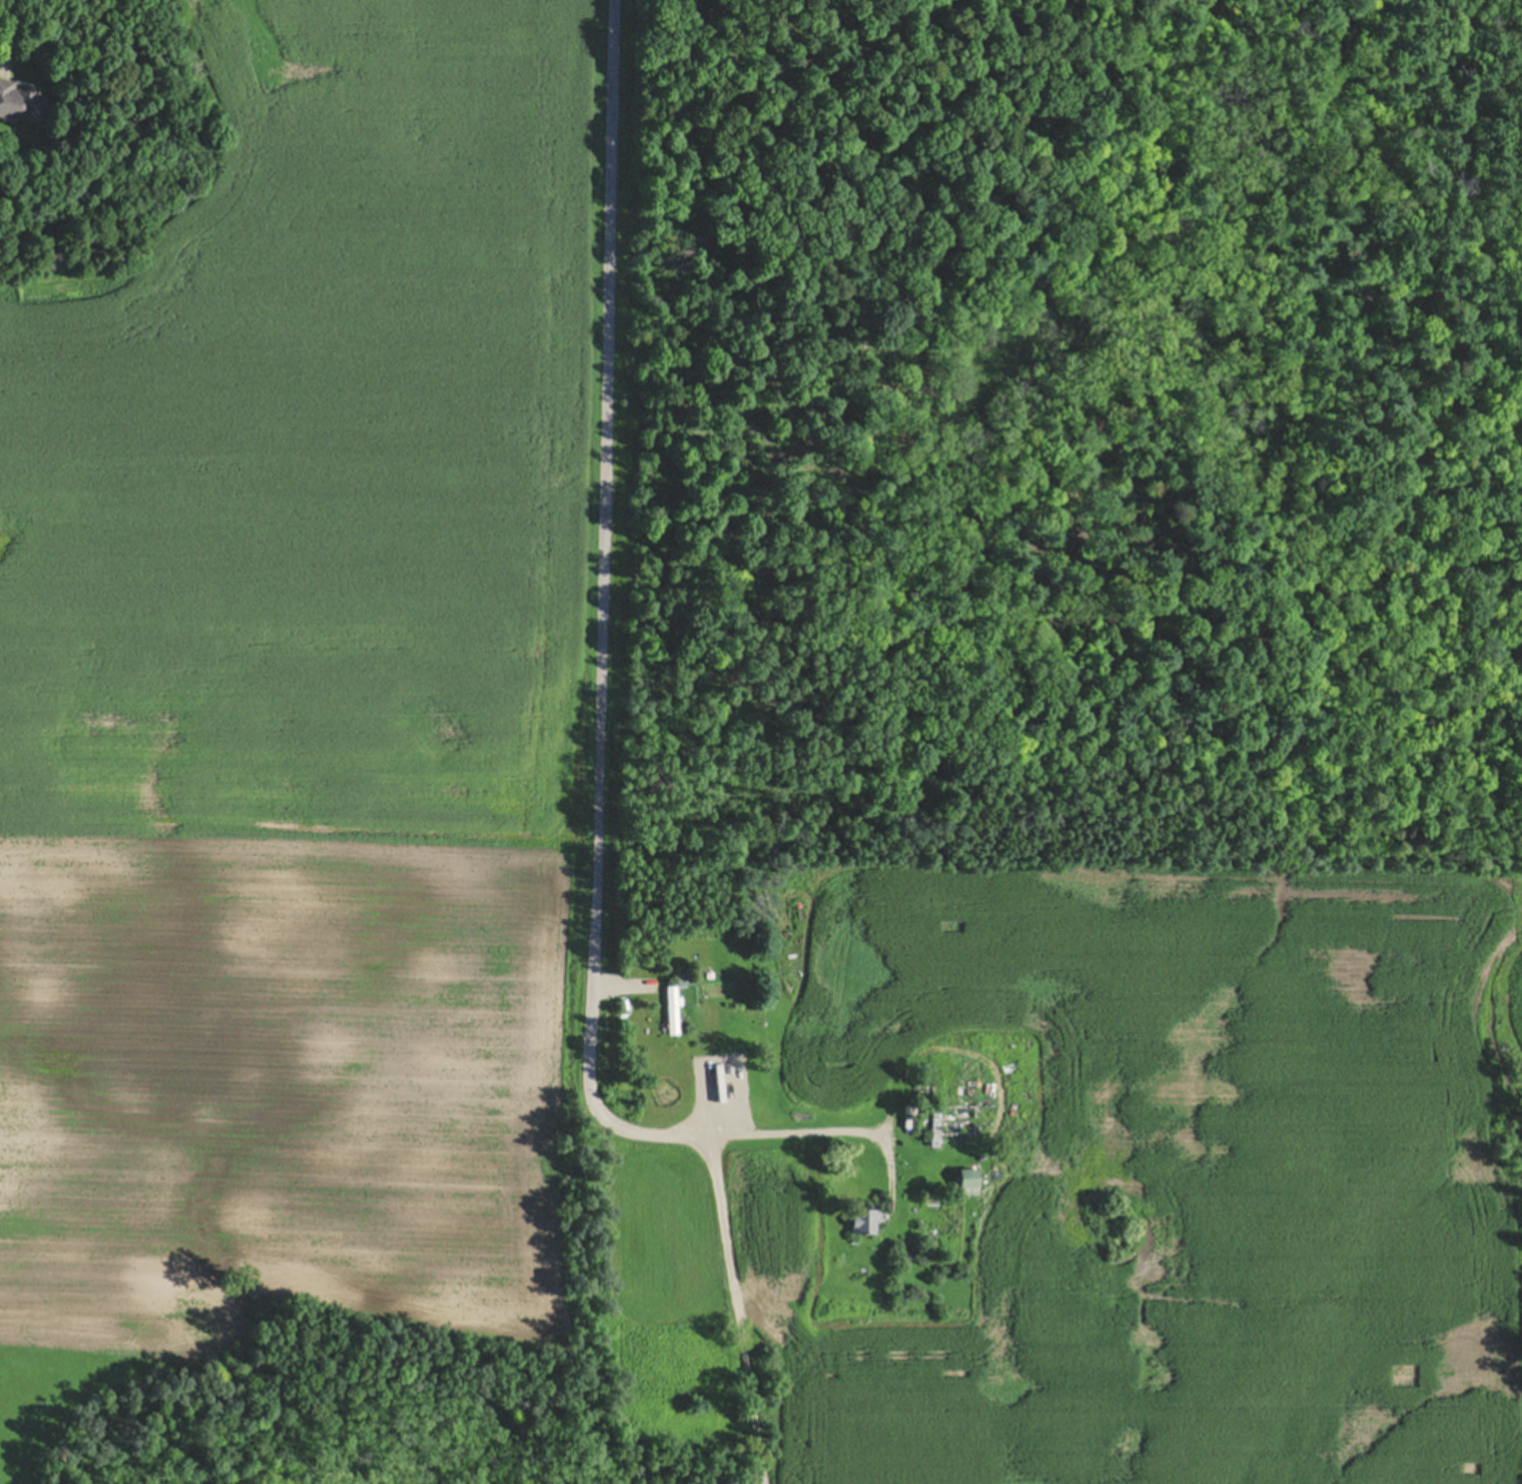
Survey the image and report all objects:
building: (20, 99)
road: (600, 692)
building: (683, 977)
building: (673, 1009)
building: (909, 1106)
building: (935, 1127)
building: (774, 1151)
building: (789, 1161)
building: (969, 1177)
building: (866, 1222)

